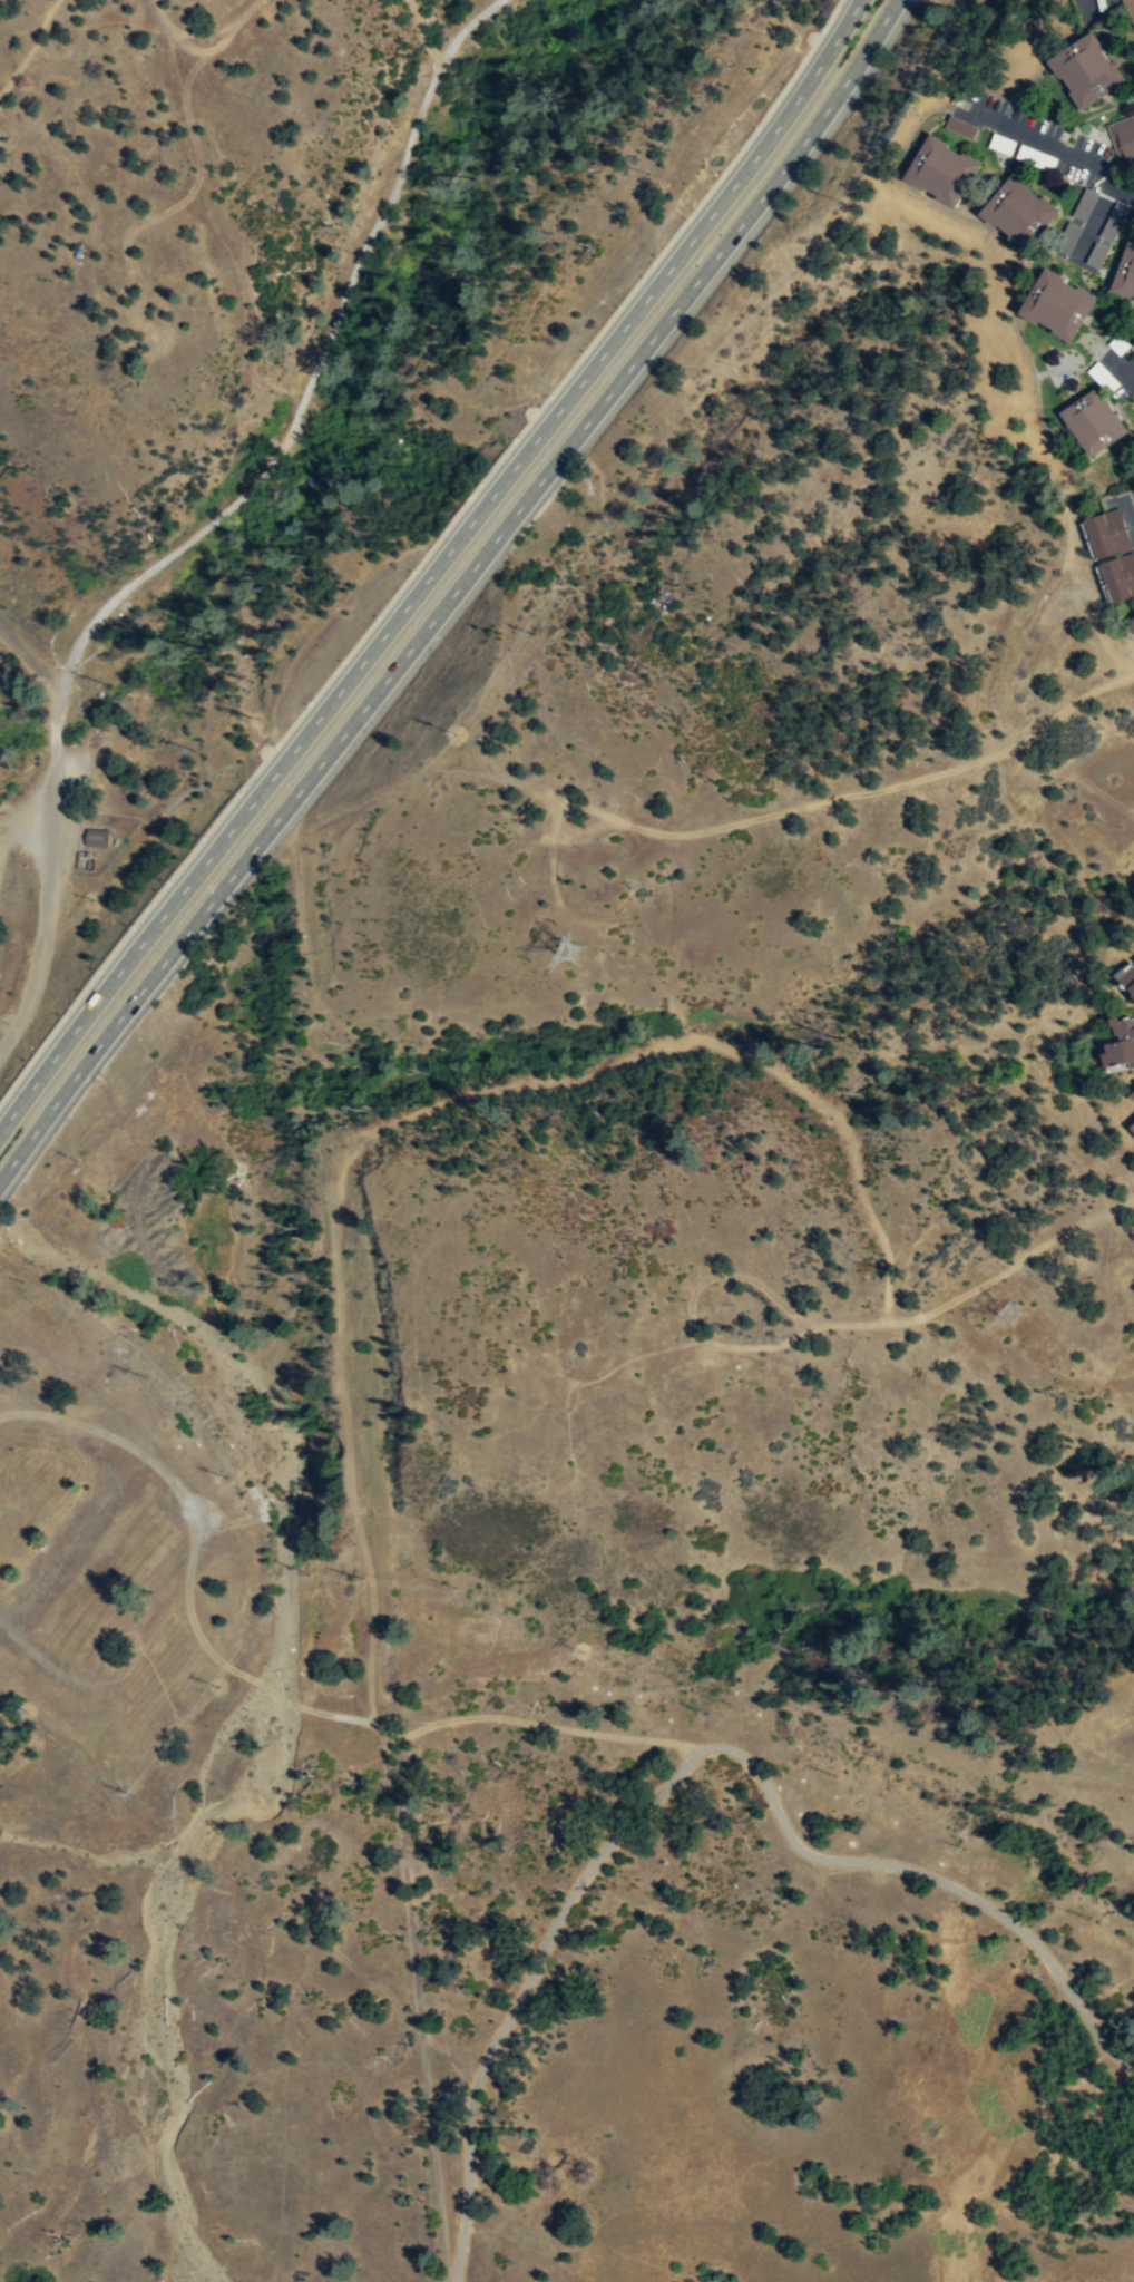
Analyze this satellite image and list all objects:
road: (158, 14)
road: (25, 20)
street lamp: (821, 27)
road: (788, 29)
road: (215, 30)
road: (423, 35)
road: (86, 36)
road: (28, 49)
building: (1085, 68)
street lamp: (785, 81)
street lamp: (754, 125)
building: (958, 126)
building: (1123, 138)
road: (1050, 145)
road: (682, 146)
building: (940, 169)
street lamp: (721, 170)
building: (1017, 211)
street lamp: (685, 216)
road: (216, 230)
building: (1093, 230)
road: (1013, 246)
street lamp: (649, 262)
building: (1125, 272)
building: (1056, 303)
street lamp: (616, 305)
street lamp: (581, 350)
road: (312, 370)
road: (1118, 370)
building: (1103, 376)
street lamp: (547, 394)
building: (1092, 421)
street lamp: (514, 437)
street lamp: (478, 481)
road: (1131, 501)
street lamp: (443, 527)
building: (1107, 532)
road: (424, 553)
road: (437, 568)
street lamp: (410, 569)
building: (1118, 575)
road: (1079, 576)
road: (452, 593)
street lamp: (374, 615)
building: (1131, 624)
road: (29, 659)
street lamp: (340, 660)
street lamp: (306, 702)
street lamp: (274, 743)
street lamp: (236, 792)
road: (815, 801)
parking lot: (27, 826)
street lamp: (202, 836)
building: (96, 837)
street lamp: (84, 857)
road: (49, 875)
street lamp: (166, 880)
street lamp: (130, 925)
power tower: (571, 957)
street lamp: (97, 968)
building: (1127, 982)
building: (1120, 1046)
building: (1131, 1096)
building: (1133, 1127)
road: (984, 1283)
road: (692, 1305)
power tower: (1007, 1315)
park: (615, 1406)
road: (267, 1688)
road: (690, 1759)
road: (418, 1999)

